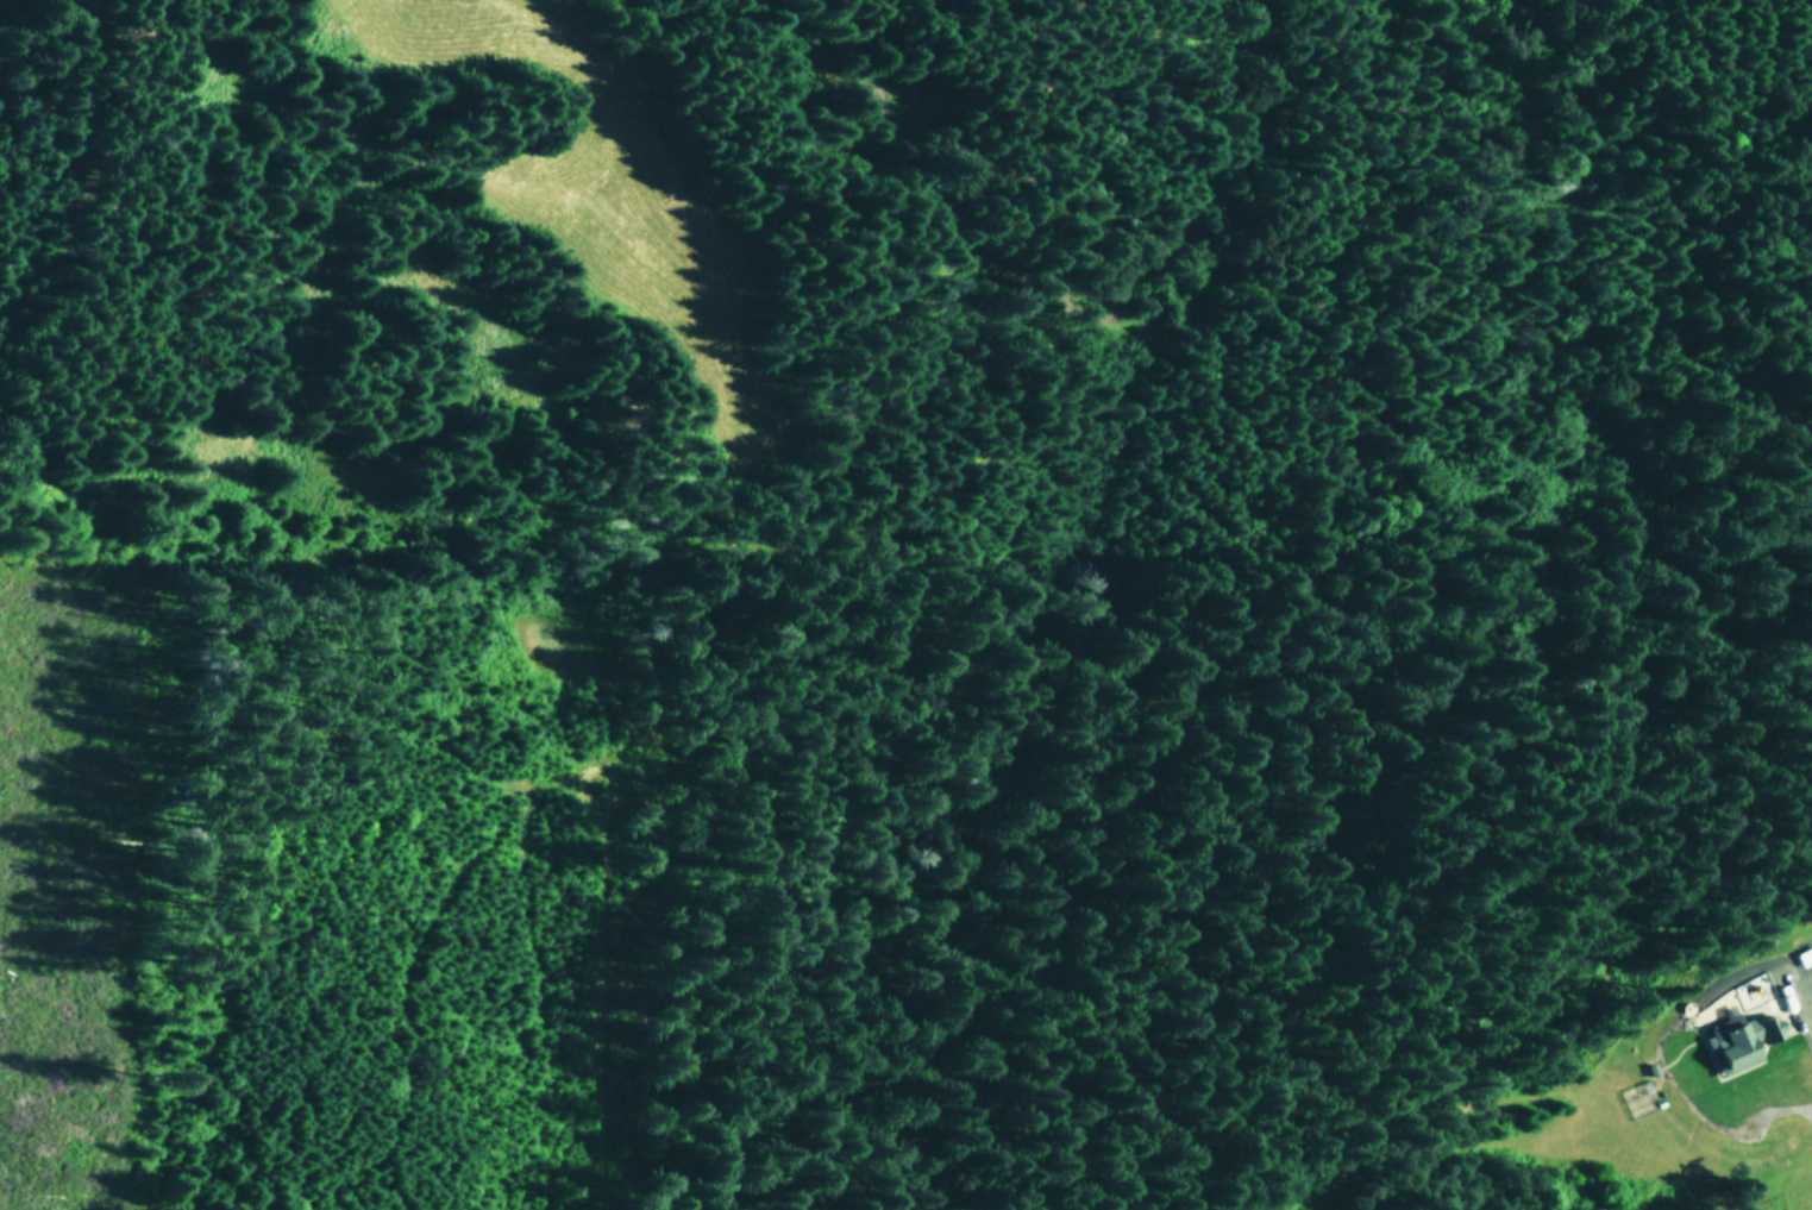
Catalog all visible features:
road: (1811, 998)

